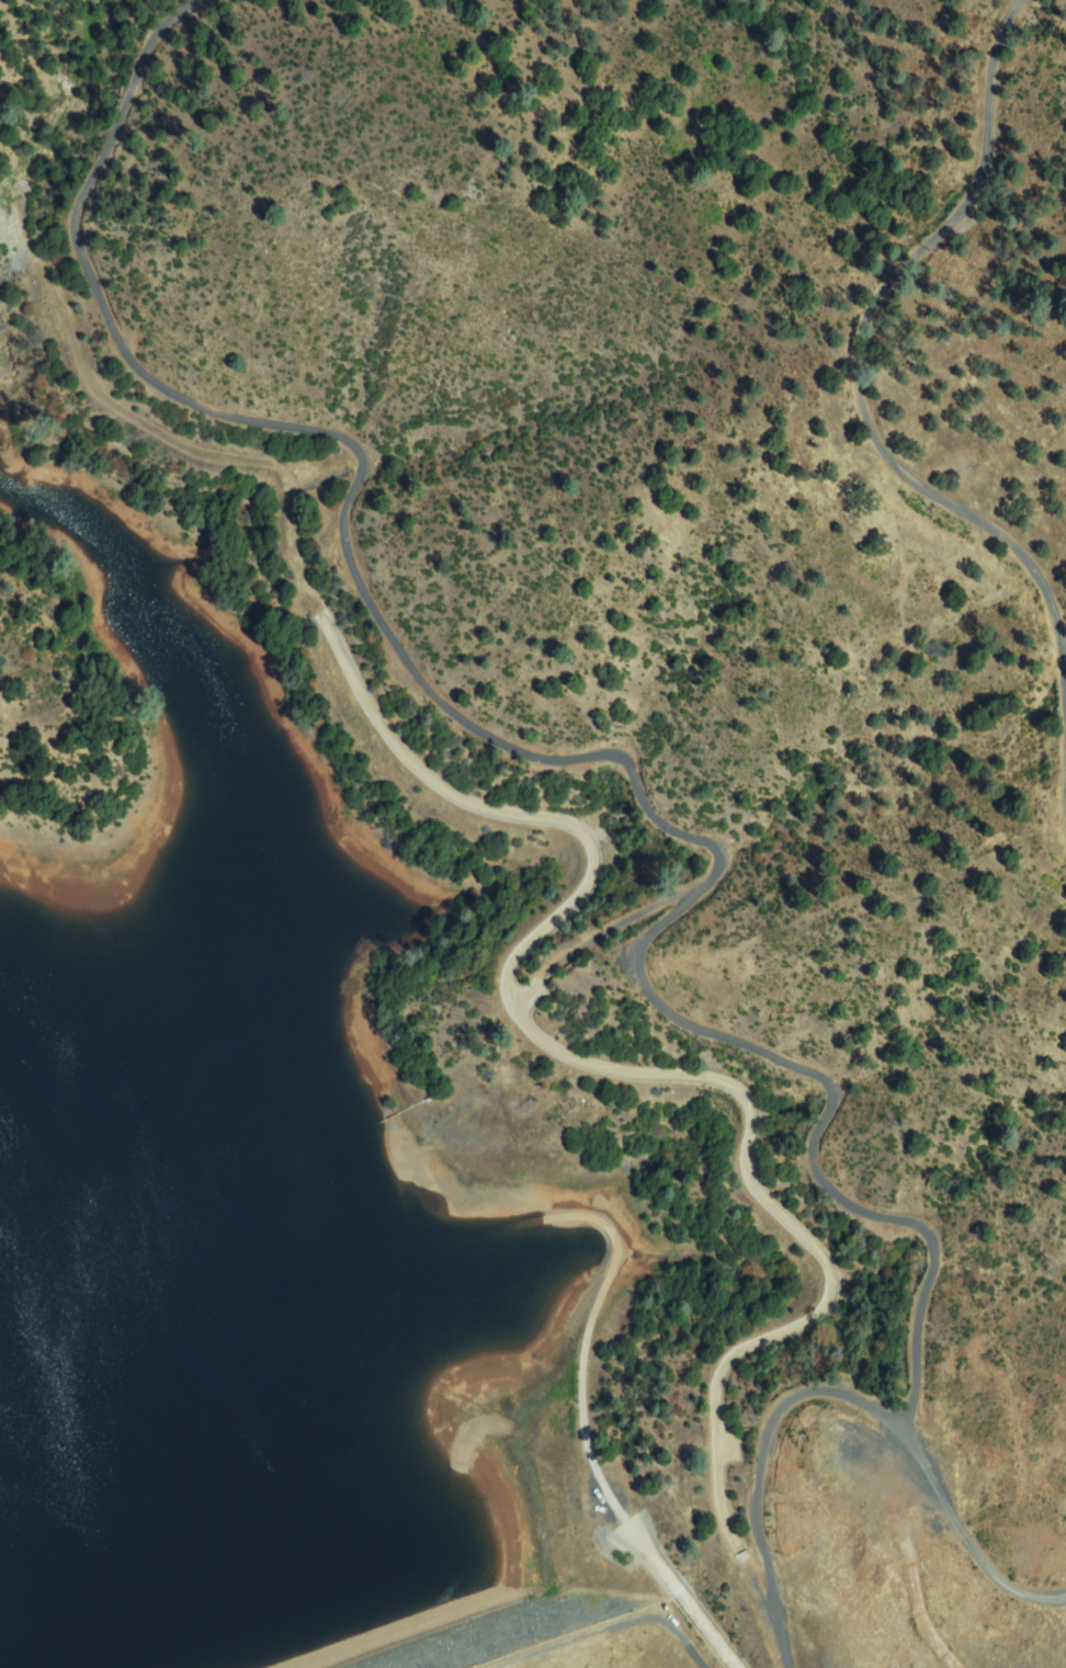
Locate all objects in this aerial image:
road: (862, 392)
road: (617, 765)
road: (582, 1421)
road: (763, 1460)
road: (599, 1630)
dam: (525, 1635)
road: (699, 1664)

